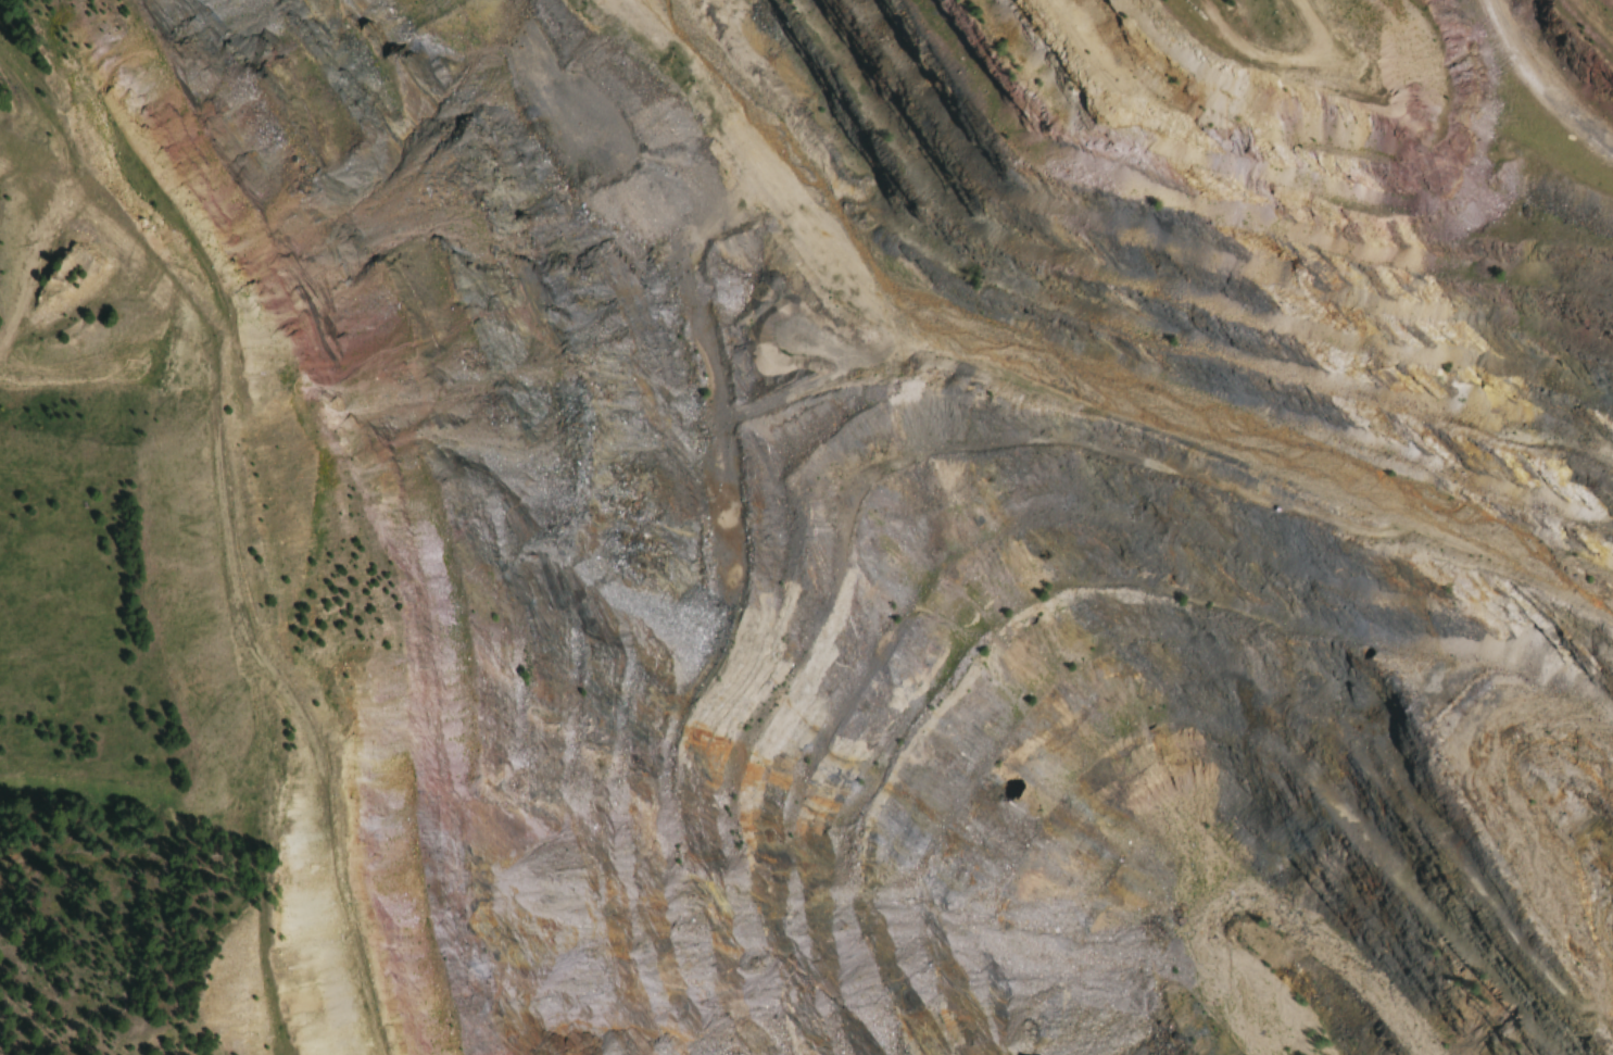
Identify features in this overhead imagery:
quarry: (920, 515)

